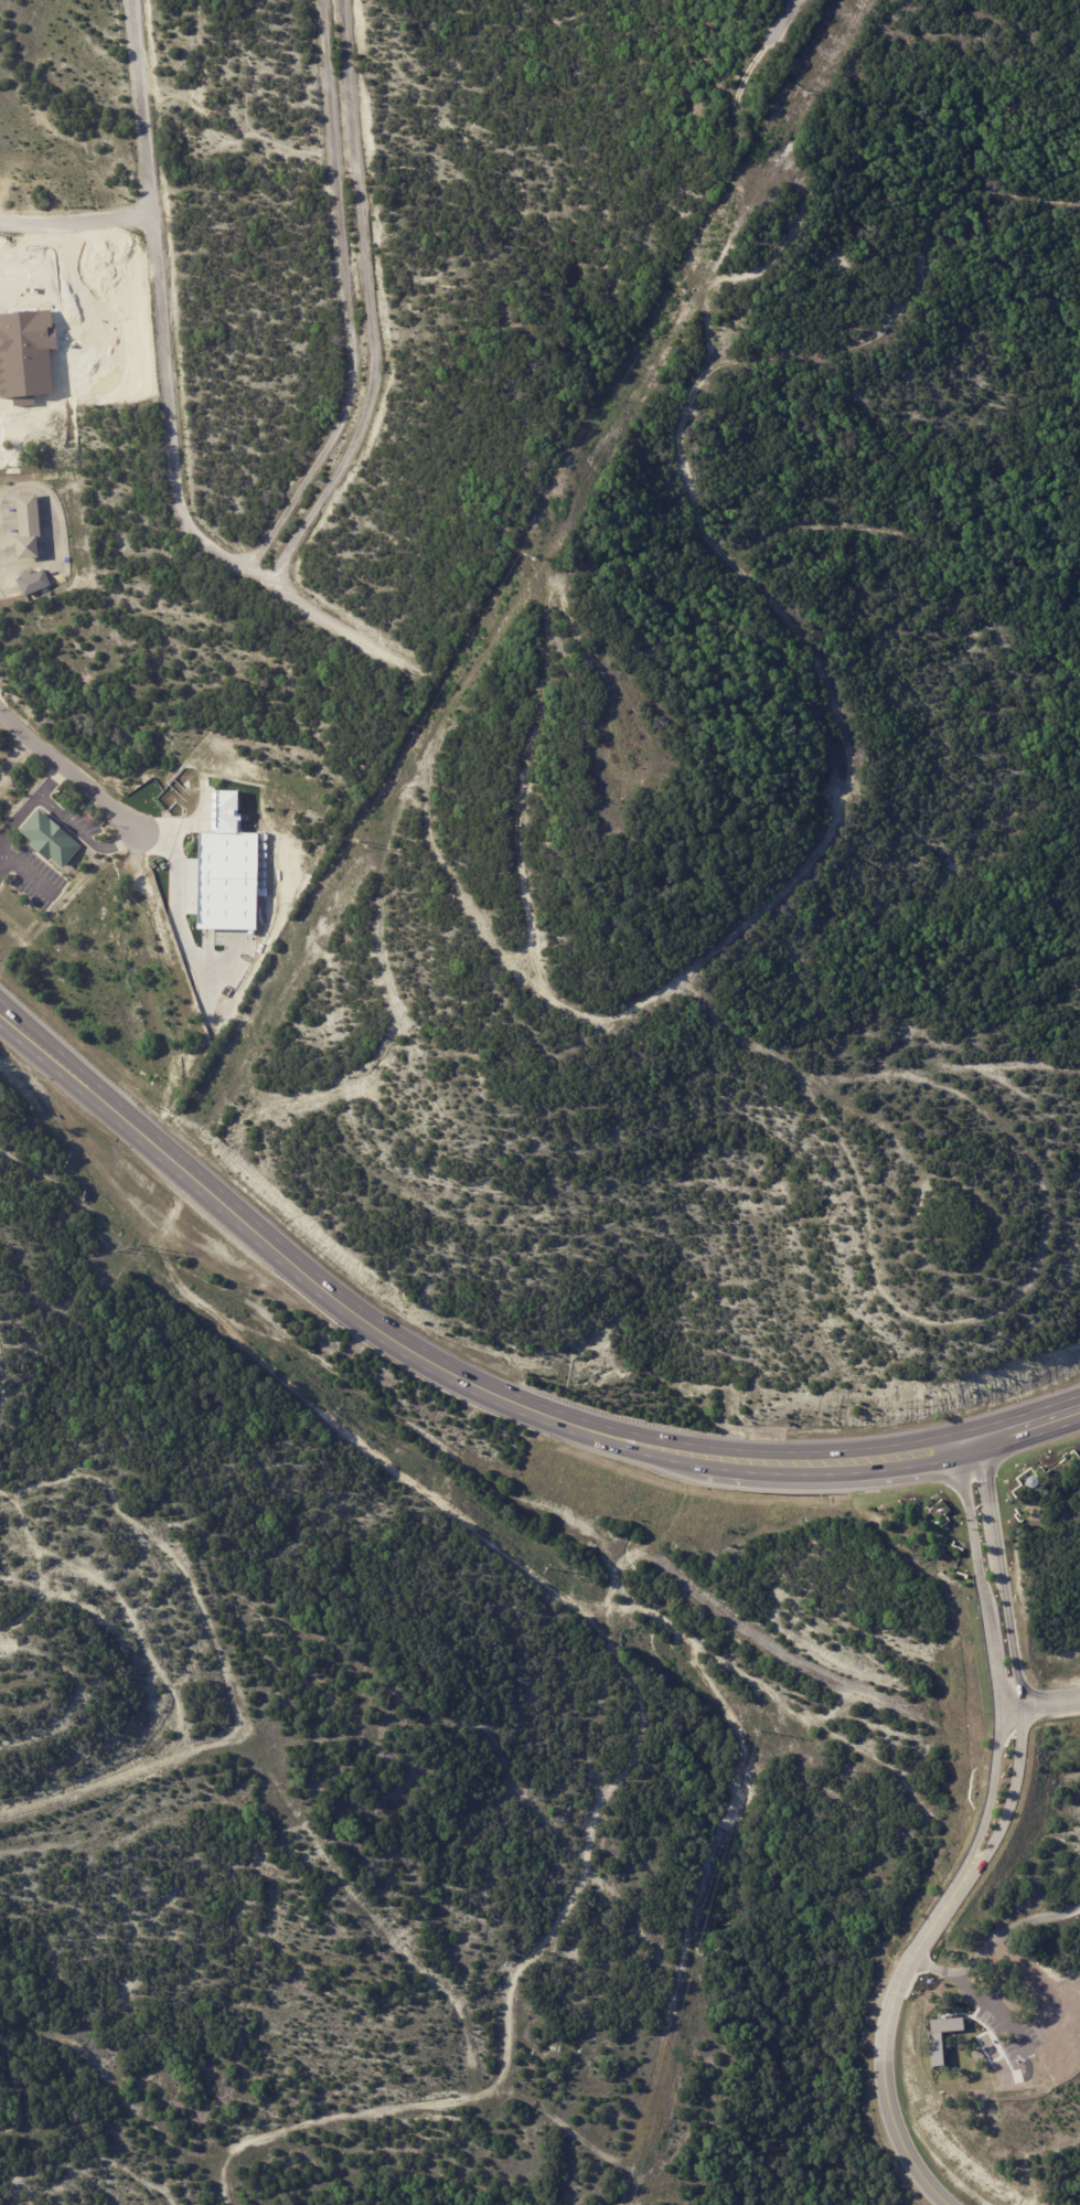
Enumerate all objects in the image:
road: (780, 18)
power tower: (799, 89)
road: (75, 225)
road: (346, 296)
road: (370, 302)
road: (165, 405)
building: (29, 524)
power tower: (528, 555)
building: (68, 560)
building: (34, 583)
road: (1, 584)
road: (14, 756)
road: (69, 773)
road: (50, 780)
road: (68, 821)
road: (12, 822)
building: (57, 840)
power tower: (360, 841)
road: (121, 842)
road: (205, 977)
power tower: (126, 1246)
road: (480, 1394)
power tower: (334, 1407)
power tower: (544, 1567)
road: (998, 1651)
road: (1022, 1652)
road: (1045, 1705)
power tower: (756, 1729)
road: (137, 1764)
road: (377, 1920)
road: (992, 1945)
road: (992, 2005)
road: (887, 2030)

